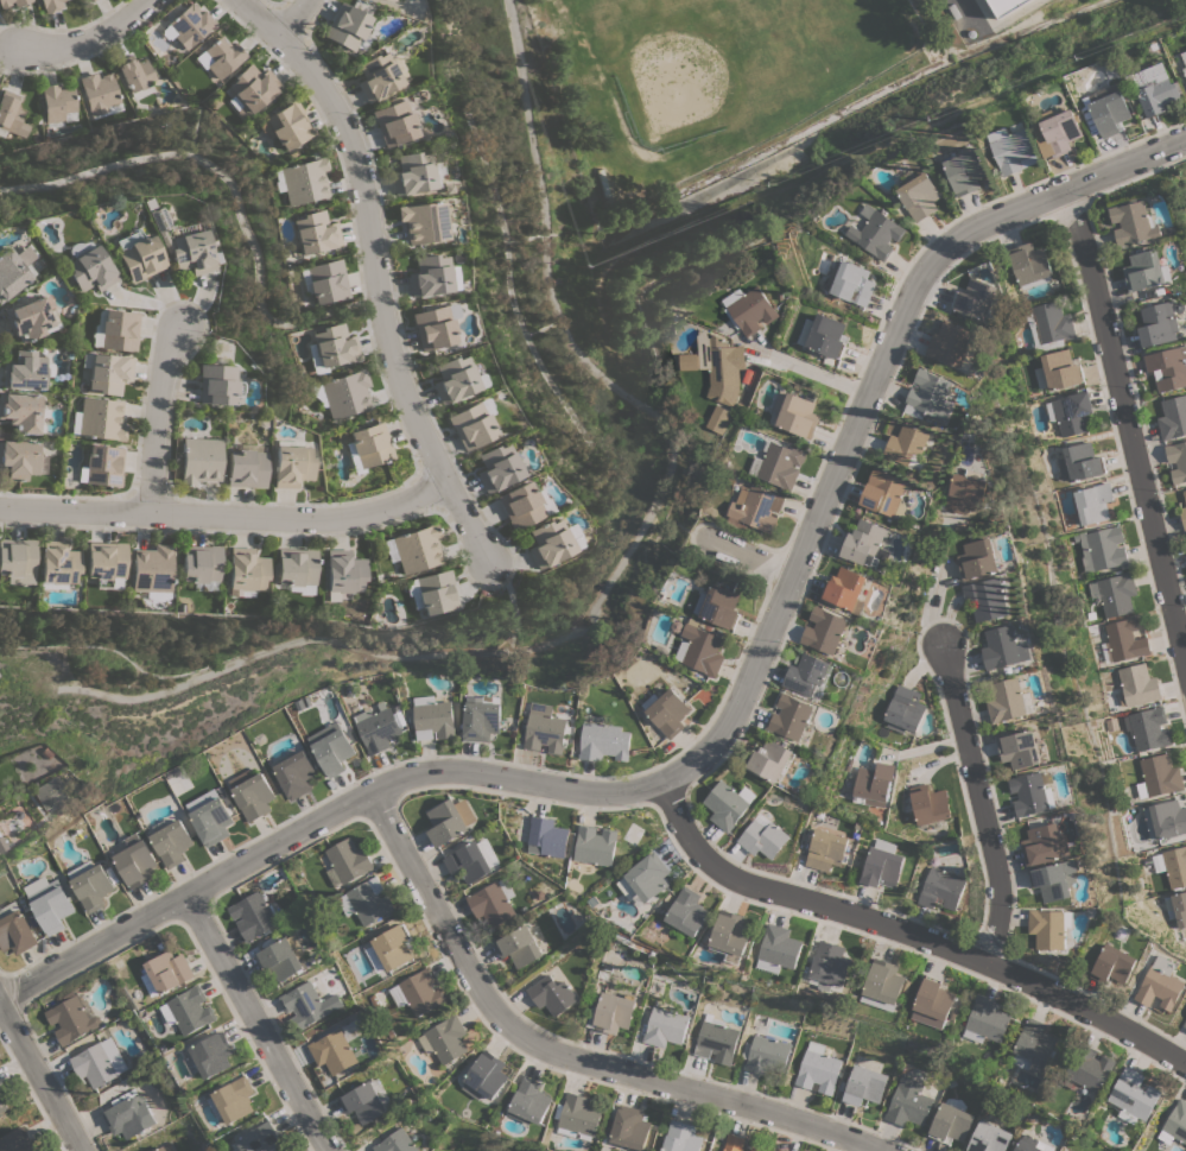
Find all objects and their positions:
building: (85, 0)
building: (90, 0)
building: (389, 0)
building: (4, 5)
building: (50, 5)
building: (1007, 6)
road: (291, 18)
building: (186, 25)
building: (348, 27)
road: (84, 42)
road: (5, 56)
building: (222, 56)
building: (1184, 56)
building: (1185, 70)
building: (135, 75)
building: (376, 76)
building: (1154, 87)
building: (250, 89)
building: (100, 94)
building: (57, 102)
building: (1109, 113)
building: (11, 114)
building: (394, 122)
building: (288, 124)
building: (1061, 131)
building: (1013, 150)
building: (966, 171)
building: (411, 172)
building: (304, 181)
road: (230, 191)
building: (921, 196)
building: (423, 222)
building: (1134, 222)
building: (315, 232)
building: (877, 232)
building: (183, 242)
building: (138, 255)
building: (1029, 263)
building: (89, 268)
building: (13, 270)
building: (1147, 270)
road: (373, 271)
building: (431, 276)
building: (326, 280)
building: (852, 282)
building: (979, 299)
building: (755, 310)
building: (30, 317)
building: (1159, 323)
building: (1048, 324)
building: (433, 325)
building: (119, 329)
building: (824, 335)
building: (953, 344)
building: (331, 347)
building: (691, 361)
building: (723, 366)
road: (814, 367)
building: (1168, 368)
building: (24, 371)
building: (1058, 371)
building: (108, 373)
building: (452, 378)
building: (216, 384)
building: (344, 393)
building: (930, 396)
building: (20, 411)
building: (797, 412)
building: (1070, 412)
building: (1173, 417)
building: (99, 419)
building: (721, 419)
road: (1133, 419)
road: (154, 420)
building: (469, 425)
building: (907, 442)
building: (369, 444)
building: (19, 458)
building: (199, 460)
building: (1178, 461)
building: (1079, 462)
building: (102, 464)
building: (291, 464)
building: (780, 464)
building: (495, 467)
building: (245, 468)
building: (969, 491)
building: (886, 493)
building: (1185, 493)
building: (1092, 502)
building: (521, 505)
building: (757, 507)
road: (224, 514)
building: (1184, 514)
building: (546, 543)
building: (865, 545)
building: (1101, 548)
building: (414, 549)
building: (17, 556)
building: (978, 558)
road: (747, 561)
building: (107, 562)
building: (201, 563)
building: (58, 564)
building: (296, 567)
building: (152, 568)
building: (246, 569)
building: (343, 573)
road: (930, 582)
building: (846, 589)
building: (436, 592)
building: (1115, 594)
building: (988, 599)
building: (719, 605)
building: (825, 630)
building: (1124, 640)
building: (1004, 647)
building: (700, 649)
building: (808, 675)
building: (1137, 685)
building: (1007, 701)
building: (905, 709)
building: (667, 712)
building: (789, 716)
building: (433, 717)
building: (481, 719)
building: (1147, 727)
building: (378, 728)
building: (545, 728)
road: (722, 733)
building: (604, 741)
building: (331, 747)
building: (1020, 748)
building: (770, 759)
building: (294, 774)
building: (1160, 774)
building: (874, 784)
building: (47, 793)
building: (1032, 793)
building: (254, 796)
road: (977, 801)
building: (725, 805)
building: (930, 805)
building: (211, 817)
building: (1168, 818)
building: (450, 820)
building: (547, 836)
building: (763, 839)
building: (2, 842)
building: (172, 842)
building: (596, 845)
building: (1045, 845)
building: (827, 849)
building: (135, 860)
building: (347, 861)
building: (471, 861)
building: (883, 864)
building: (1172, 866)
building: (646, 879)
building: (1055, 879)
building: (93, 884)
building: (943, 888)
building: (367, 900)
building: (493, 902)
building: (50, 903)
building: (1177, 907)
building: (687, 911)
building: (253, 915)
building: (1051, 927)
building: (15, 929)
road: (909, 935)
building: (731, 936)
building: (781, 946)
building: (394, 947)
building: (519, 947)
building: (283, 957)
building: (831, 965)
building: (1114, 965)
building: (167, 972)
building: (1161, 984)
building: (884, 985)
building: (419, 992)
building: (552, 994)
building: (934, 1003)
building: (309, 1005)
building: (191, 1010)
building: (611, 1012)
building: (72, 1017)
building: (988, 1020)
building: (1185, 1024)
road: (266, 1026)
building: (665, 1026)
building: (448, 1038)
building: (716, 1041)
building: (1035, 1046)
building: (334, 1051)
building: (211, 1055)
road: (565, 1055)
building: (766, 1055)
building: (100, 1062)
building: (1090, 1067)
building: (818, 1069)
building: (486, 1075)
road: (42, 1077)
building: (865, 1084)
building: (1134, 1093)
building: (236, 1098)
building: (367, 1100)
building: (531, 1101)
building: (908, 1102)
building: (4, 1103)
building: (131, 1117)
building: (579, 1117)
building: (950, 1122)
building: (1175, 1122)
building: (632, 1127)
building: (683, 1137)
building: (261, 1138)
building: (989, 1138)
building: (18, 1140)
building: (397, 1141)
building: (735, 1143)
building: (1026, 1146)
building: (167, 1147)
building: (756, 1149)
building: (782, 1150)
building: (786, 1150)

